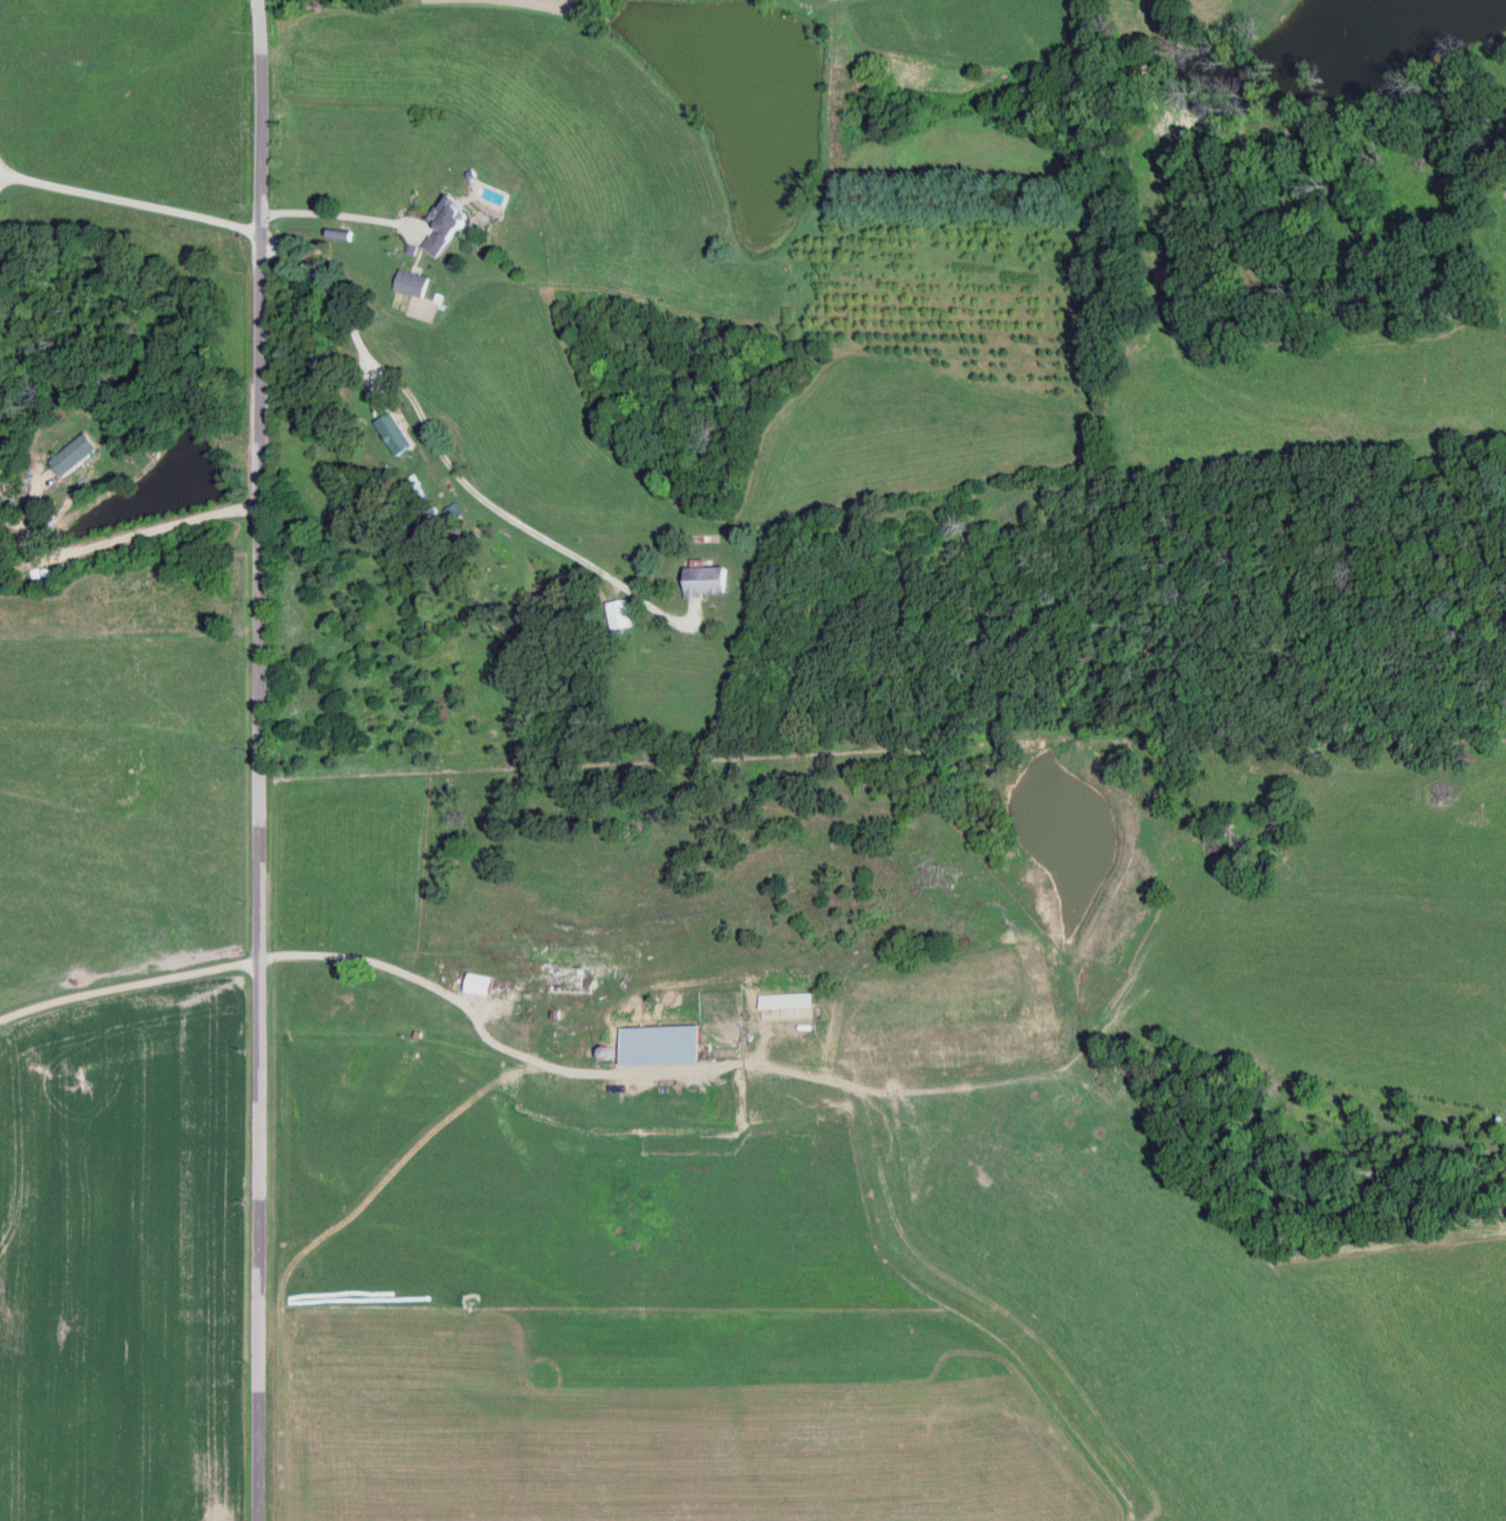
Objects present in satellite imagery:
road: (1493, 3)
building: (444, 231)
building: (412, 285)
road: (527, 313)
road: (128, 318)
building: (394, 437)
building: (73, 457)
road: (439, 462)
building: (453, 514)
building: (707, 584)
building: (621, 617)
road: (254, 762)
building: (571, 981)
building: (478, 986)
road: (126, 1004)
building: (749, 1004)
building: (660, 1047)

